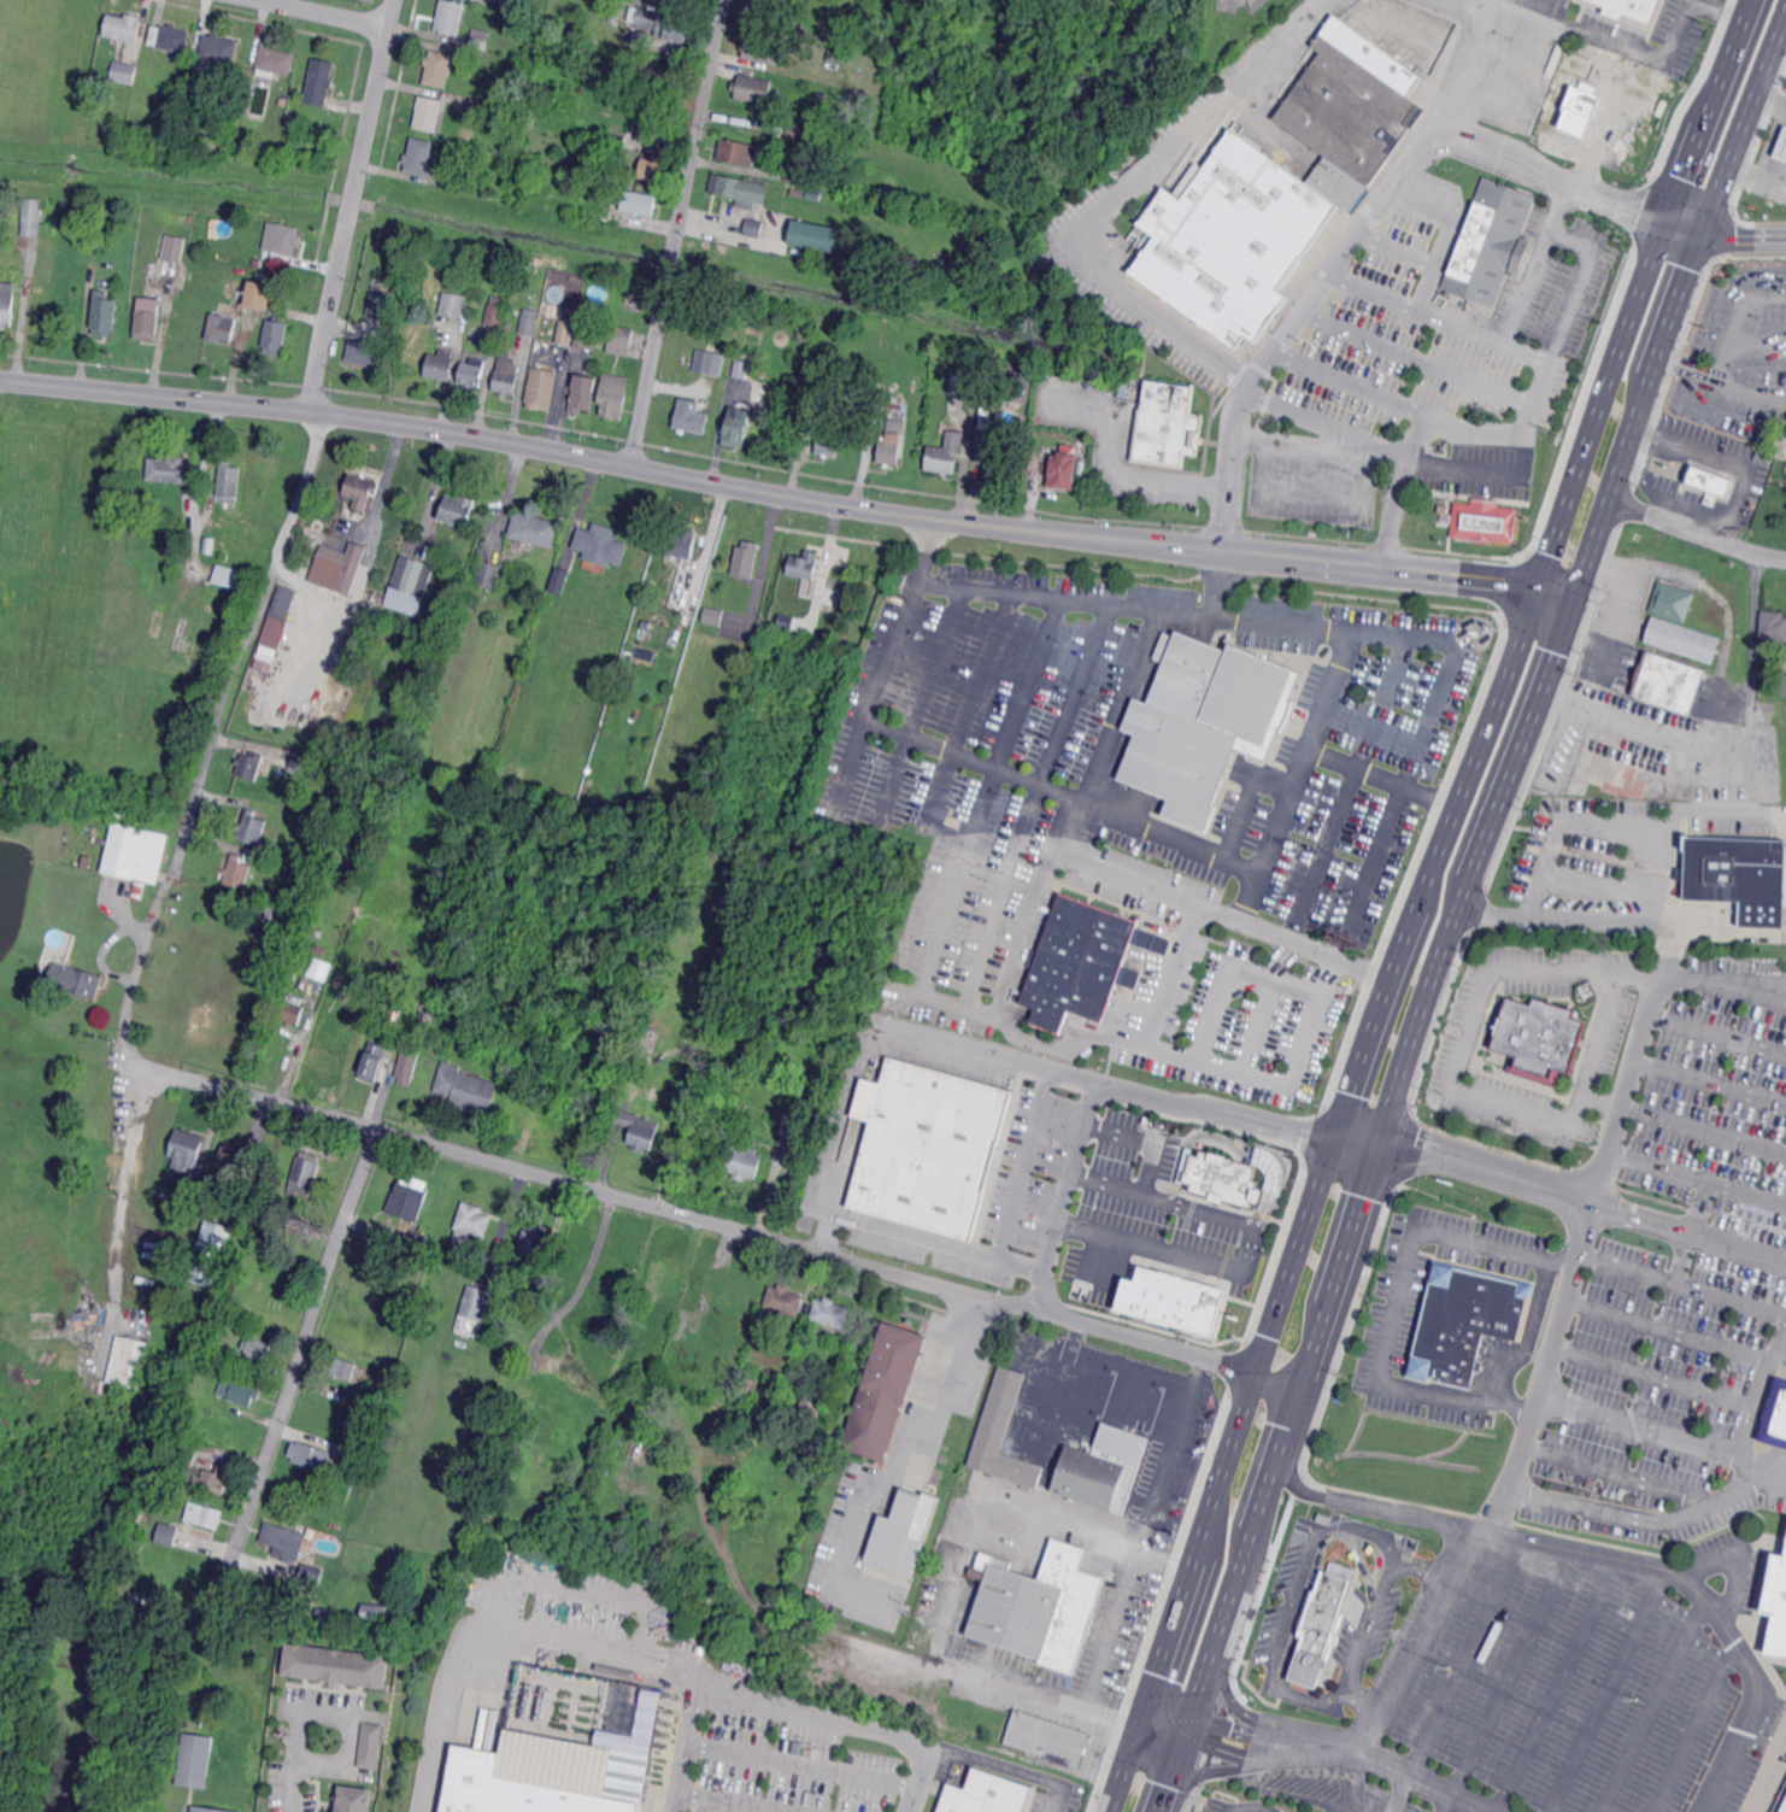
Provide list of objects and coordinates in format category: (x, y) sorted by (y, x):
building: (510, 4)
building: (1632, 8)
road: (324, 13)
building: (610, 16)
building: (450, 17)
building: (664, 24)
building: (123, 27)
building: (170, 37)
building: (480, 39)
building: (219, 48)
building: (759, 48)
road: (1538, 52)
building: (829, 57)
road: (1638, 58)
building: (274, 60)
building: (844, 64)
building: (437, 68)
building: (124, 72)
building: (657, 81)
building: (319, 82)
building: (751, 89)
building: (1575, 90)
building: (819, 95)
building: (628, 100)
building: (282, 102)
road: (1770, 104)
building: (477, 110)
building: (1350, 111)
building: (644, 112)
building: (428, 113)
building: (184, 121)
building: (292, 121)
building: (652, 134)
building: (803, 134)
building: (828, 139)
building: (616, 141)
building: (1780, 143)
building: (224, 145)
road: (1735, 145)
building: (740, 152)
building: (418, 156)
building: (795, 165)
building: (651, 169)
road: (1547, 174)
road: (1757, 174)
building: (451, 177)
building: (606, 178)
building: (738, 188)
building: (806, 193)
road: (1381, 198)
road: (1110, 199)
building: (639, 203)
road: (351, 205)
building: (33, 217)
traffic signals: (1663, 217)
building: (753, 228)
road: (1445, 230)
road: (677, 234)
building: (812, 235)
building: (93, 238)
traffic signals: (1698, 238)
road: (1721, 238)
building: (1229, 240)
building: (283, 241)
building: (1490, 242)
road: (1396, 246)
building: (93, 247)
building: (175, 248)
road: (1533, 260)
building: (258, 262)
road: (1645, 268)
building: (164, 269)
building: (258, 293)
road: (1763, 297)
building: (7, 304)
building: (382, 304)
building: (453, 304)
building: (497, 310)
building: (104, 313)
building: (582, 313)
road: (1437, 315)
building: (754, 316)
road: (1735, 318)
building: (147, 321)
building: (529, 322)
building: (222, 329)
building: (565, 332)
building: (476, 334)
building: (276, 335)
building: (584, 339)
building: (621, 340)
road: (1758, 341)
building: (365, 353)
road: (1416, 354)
building: (709, 359)
building: (440, 365)
building: (472, 369)
building: (746, 369)
road: (1704, 375)
building: (506, 376)
road: (1353, 382)
building: (964, 385)
building: (1021, 386)
building: (541, 387)
road: (674, 387)
building: (810, 392)
building: (583, 394)
building: (612, 395)
building: (691, 416)
building: (897, 424)
building: (1168, 424)
road: (1322, 424)
building: (738, 427)
road: (1517, 429)
building: (828, 440)
road: (1300, 441)
building: (889, 448)
building: (946, 453)
road: (1727, 458)
road: (1229, 465)
building: (1001, 467)
road: (1480, 467)
building: (170, 469)
building: (1064, 469)
building: (1081, 469)
road: (1142, 476)
building: (1711, 481)
building: (228, 482)
building: (362, 489)
road: (1311, 493)
road: (786, 495)
building: (458, 509)
building: (1484, 518)
building: (534, 529)
road: (1697, 530)
road: (1596, 535)
building: (598, 540)
building: (683, 543)
building: (210, 545)
road: (926, 549)
building: (224, 556)
building: (746, 559)
building: (803, 565)
building: (337, 568)
building: (446, 569)
building: (488, 574)
building: (229, 577)
building: (562, 577)
building: (410, 586)
traffic signals: (1535, 587)
traffic signals: (1573, 603)
building: (1676, 603)
building: (277, 616)
building: (713, 616)
building: (787, 621)
building: (645, 626)
building: (1773, 626)
road: (1612, 627)
road: (1358, 628)
building: (187, 635)
road: (242, 637)
building: (1684, 639)
road: (1584, 640)
building: (539, 646)
building: (645, 656)
building: (1668, 681)
building: (1782, 685)
road: (1327, 688)
building: (1199, 722)
road: (1715, 723)
road: (1109, 733)
building: (302, 763)
building: (249, 766)
road: (1304, 767)
building: (516, 770)
road: (877, 794)
road: (1621, 817)
building: (252, 827)
road: (1174, 832)
road: (1385, 833)
road: (1440, 837)
building: (135, 854)
building: (251, 856)
building: (237, 873)
building: (1739, 876)
building: (263, 911)
road: (1587, 920)
road: (1723, 928)
building: (318, 950)
road: (137, 962)
building: (1083, 963)
building: (311, 970)
building: (72, 979)
building: (394, 983)
building: (306, 984)
road: (1744, 991)
building: (717, 997)
building: (433, 1008)
building: (293, 1009)
building: (396, 1014)
building: (676, 1030)
road: (1717, 1032)
road: (1600, 1036)
building: (1539, 1037)
building: (644, 1043)
road: (1467, 1043)
building: (369, 1060)
building: (407, 1063)
road: (146, 1067)
road: (1282, 1077)
building: (785, 1080)
road: (1710, 1081)
building: (465, 1089)
road: (1616, 1124)
building: (793, 1127)
building: (640, 1130)
road: (1704, 1131)
traffic signals: (1379, 1134)
road: (1333, 1136)
traffic signals: (1335, 1137)
building: (186, 1149)
building: (951, 1153)
building: (231, 1156)
building: (745, 1163)
building: (305, 1173)
building: (1233, 1175)
road: (1697, 1177)
road: (1114, 1186)
park: (33, 1194)
building: (410, 1194)
building: (204, 1197)
building: (186, 1198)
road: (121, 1210)
building: (470, 1225)
building: (298, 1226)
road: (738, 1228)
building: (383, 1233)
road: (917, 1237)
building: (421, 1241)
building: (533, 1241)
road: (1047, 1241)
building: (211, 1254)
building: (663, 1280)
road: (1684, 1284)
building: (738, 1288)
road: (1328, 1297)
building: (785, 1300)
building: (1171, 1300)
road: (1396, 1303)
building: (472, 1312)
building: (832, 1313)
building: (141, 1321)
building: (1464, 1323)
road: (1668, 1329)
road: (1527, 1336)
building: (257, 1348)
road: (302, 1355)
building: (682, 1356)
building: (129, 1361)
building: (340, 1367)
road: (951, 1370)
traffic signals: (1253, 1370)
building: (571, 1371)
building: (178, 1376)
road: (1655, 1376)
traffic signals: (1302, 1385)
building: (885, 1390)
building: (748, 1391)
building: (775, 1391)
building: (240, 1392)
building: (642, 1398)
building: (359, 1400)
building: (813, 1411)
building: (687, 1412)
building: (715, 1415)
building: (1773, 1415)
building: (1780, 1417)
building: (1004, 1433)
road: (1702, 1444)
building: (188, 1452)
building: (310, 1455)
building: (352, 1458)
road: (1762, 1464)
building: (760, 1465)
building: (1100, 1468)
road: (1615, 1471)
road: (1164, 1472)
road: (1218, 1473)
building: (215, 1478)
building: (201, 1514)
building: (545, 1515)
building: (1324, 1517)
road: (1641, 1517)
building: (166, 1534)
building: (900, 1534)
building: (280, 1537)
road: (1603, 1553)
road: (1315, 1565)
road: (1424, 1568)
road: (962, 1572)
building: (311, 1576)
building: (1773, 1584)
road: (577, 1587)
road: (1297, 1599)
building: (1039, 1606)
road: (546, 1608)
building: (330, 1612)
building: (375, 1612)
building: (1252, 1613)
building: (1321, 1622)
road: (1368, 1624)
road: (503, 1626)
road: (1421, 1640)
road: (1467, 1655)
building: (336, 1665)
road: (1508, 1679)
road: (1556, 1684)
road: (1606, 1690)
road: (1363, 1700)
traffic signals: (1144, 1701)
road: (1651, 1707)
road: (783, 1711)
road: (353, 1717)
traffic signals: (1193, 1718)
traffic signals: (1136, 1720)
building: (205, 1724)
road: (1224, 1728)
road: (1693, 1729)
traffic signals: (1186, 1737)
building: (1050, 1738)
road: (1202, 1743)
building: (369, 1746)
road: (1353, 1754)
building: (192, 1760)
building: (1785, 1760)
building: (563, 1765)
road: (801, 1765)
road: (1007, 1769)
road: (1349, 1783)
road: (290, 1787)
road: (1402, 1793)
building: (986, 1795)
building: (354, 1799)
road: (736, 1800)
building: (1781, 1804)
road: (1163, 1805)
road: (1255, 1807)
building: (204, 1810)
road: (1234, 1810)

